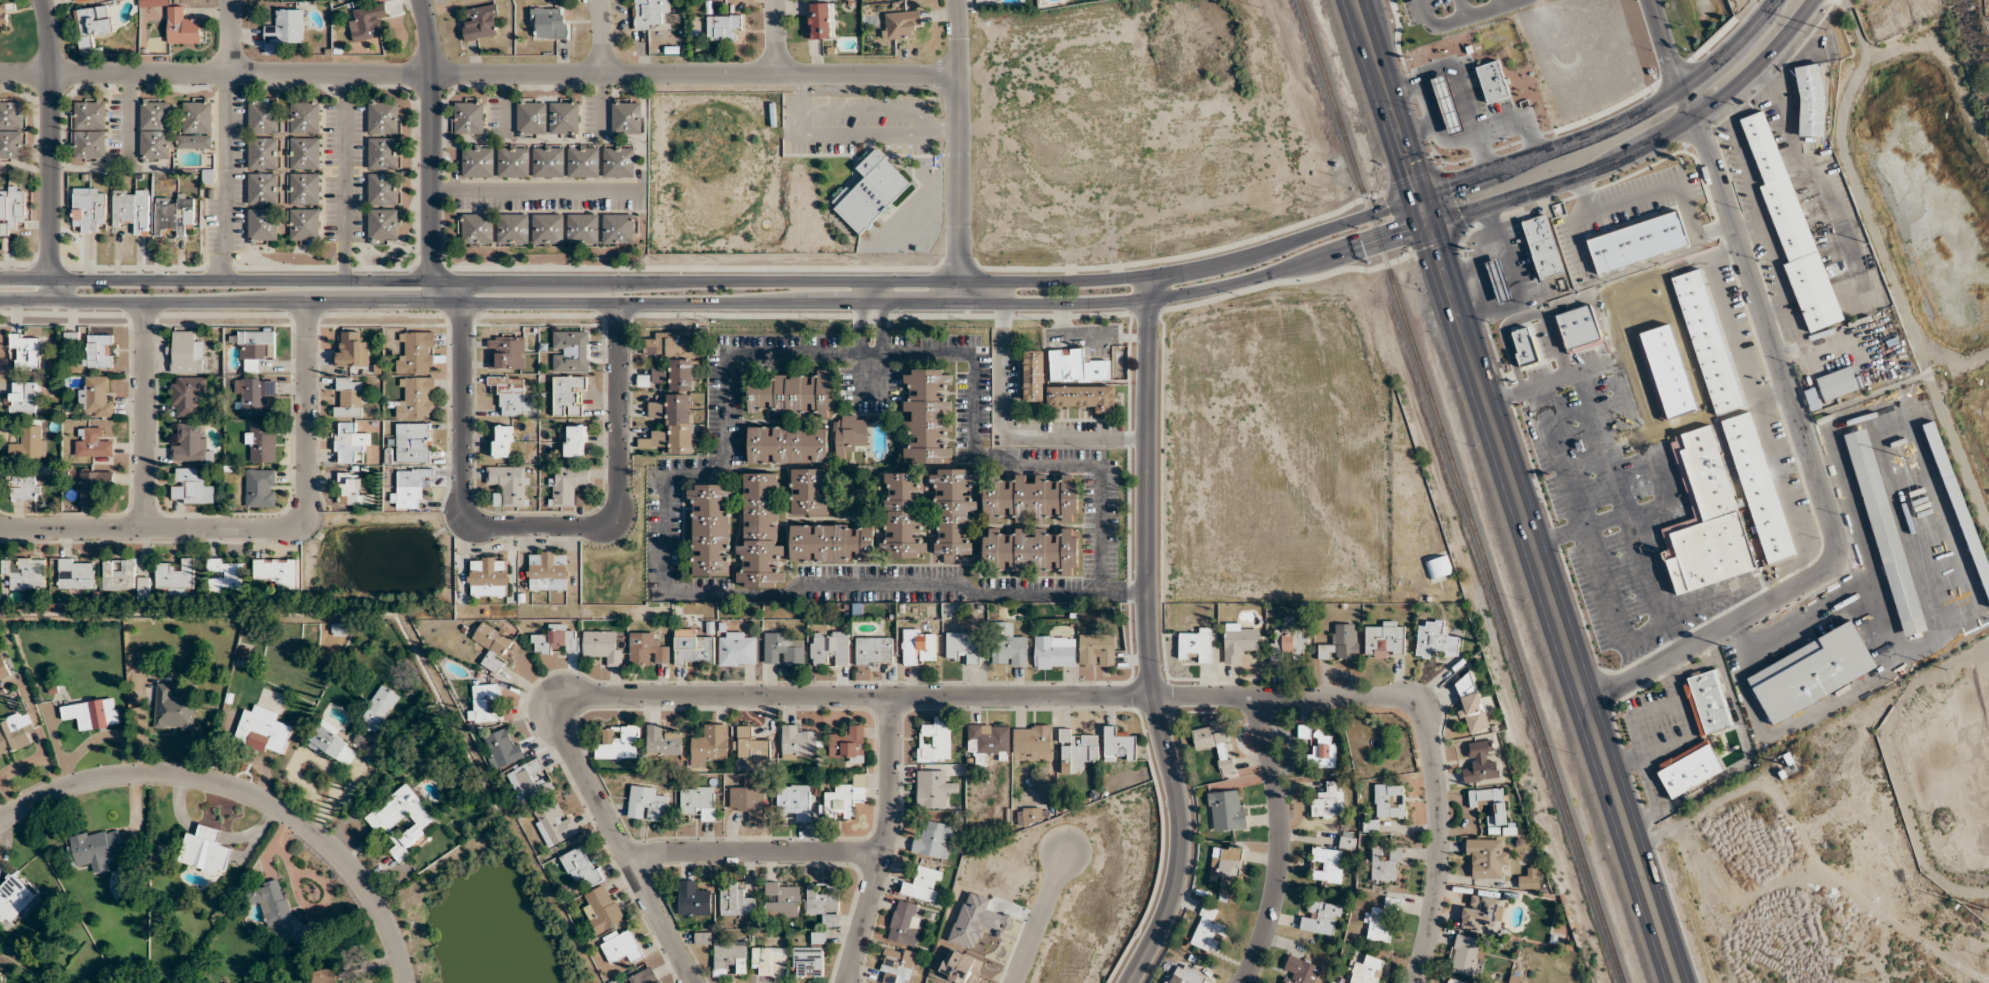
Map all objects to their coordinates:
building: (81, 1)
building: (649, 13)
building: (3, 18)
building: (820, 20)
building: (368, 22)
building: (548, 22)
building: (481, 23)
building: (93, 24)
building: (900, 24)
building: (182, 26)
building: (285, 27)
building: (723, 27)
road: (229, 36)
road: (599, 36)
road: (775, 36)
road: (1664, 45)
road: (478, 73)
building: (1492, 81)
building: (1810, 100)
road: (505, 103)
road: (601, 104)
building: (1446, 104)
road: (1433, 106)
building: (262, 116)
building: (468, 116)
building: (626, 116)
building: (304, 117)
building: (383, 117)
building: (531, 117)
building: (563, 118)
road: (129, 120)
building: (195, 124)
road: (1614, 127)
building: (155, 129)
road: (1500, 129)
building: (11, 130)
building: (88, 130)
road: (1644, 149)
road: (50, 150)
road: (433, 150)
road: (957, 150)
building: (262, 153)
building: (304, 153)
building: (383, 153)
building: (478, 160)
building: (513, 160)
building: (547, 161)
building: (582, 161)
building: (618, 161)
road: (226, 176)
road: (344, 177)
building: (263, 188)
building: (304, 188)
building: (383, 189)
road: (538, 189)
building: (871, 192)
traffic signals: (1419, 198)
building: (11, 206)
building: (89, 207)
building: (131, 210)
building: (173, 214)
building: (262, 224)
building: (304, 224)
building: (383, 224)
traffic signals: (1429, 224)
building: (1790, 226)
building: (477, 229)
building: (513, 229)
building: (547, 229)
building: (583, 229)
building: (618, 229)
building: (1637, 242)
building: (1541, 246)
road: (1648, 277)
road: (715, 280)
building: (1497, 280)
road: (862, 291)
road: (879, 291)
road: (719, 303)
road: (861, 325)
road: (878, 334)
building: (1707, 341)
building: (667, 344)
road: (1665, 345)
building: (256, 347)
building: (27, 349)
building: (351, 350)
building: (97, 351)
building: (508, 351)
building: (570, 351)
building: (186, 353)
building: (416, 353)
road: (1630, 355)
building: (1076, 366)
building: (681, 374)
building: (1034, 375)
building: (1838, 383)
building: (510, 394)
building: (187, 395)
building: (253, 395)
building: (97, 396)
building: (569, 396)
building: (1084, 396)
building: (21, 397)
building: (349, 397)
building: (416, 399)
building: (1812, 399)
building: (805, 403)
road: (1756, 406)
road: (1596, 408)
building: (655, 410)
road: (144, 416)
building: (927, 416)
building: (673, 426)
road: (1619, 429)
road: (1011, 432)
building: (503, 441)
building: (575, 441)
building: (350, 442)
building: (413, 442)
building: (92, 443)
building: (30, 444)
building: (189, 444)
building: (259, 444)
building: (787, 444)
road: (999, 459)
road: (1660, 460)
road: (1812, 477)
building: (509, 484)
railway: (1459, 484)
building: (93, 486)
building: (567, 486)
building: (23, 487)
building: (191, 487)
building: (260, 488)
building: (350, 488)
building: (409, 488)
building: (809, 491)
road: (1516, 491)
building: (1031, 497)
road: (1648, 506)
building: (1723, 507)
building: (953, 512)
building: (902, 517)
road: (1602, 521)
road: (532, 526)
building: (710, 528)
road: (259, 529)
building: (1884, 530)
building: (760, 535)
road: (1556, 536)
building: (831, 542)
road: (1584, 546)
building: (1031, 551)
building: (1438, 567)
road: (1645, 567)
building: (547, 570)
building: (277, 571)
building: (25, 572)
building: (76, 573)
building: (118, 574)
building: (225, 575)
building: (488, 576)
building: (176, 577)
building: (143, 589)
road: (685, 592)
road: (1135, 593)
road: (1710, 598)
building: (340, 627)
road: (1148, 636)
road: (1670, 636)
building: (1384, 639)
building: (556, 640)
building: (1436, 640)
building: (1239, 642)
building: (1341, 643)
building: (1288, 644)
building: (492, 645)
building: (1194, 645)
building: (919, 646)
building: (964, 646)
building: (602, 647)
building: (693, 648)
building: (830, 648)
building: (647, 649)
building: (737, 649)
building: (782, 649)
building: (1096, 650)
building: (874, 651)
building: (1055, 652)
building: (4, 667)
building: (1811, 672)
road: (1298, 694)
road: (573, 702)
building: (486, 703)
building: (1471, 704)
building: (173, 709)
building: (378, 709)
building: (91, 714)
building: (263, 731)
building: (15, 732)
building: (1304, 732)
building: (1699, 734)
building: (662, 741)
building: (934, 741)
building: (987, 741)
building: (710, 742)
building: (1032, 742)
building: (331, 743)
building: (619, 743)
building: (797, 743)
building: (1214, 743)
building: (848, 745)
building: (751, 746)
building: (1118, 746)
building: (502, 748)
building: (1324, 750)
building: (1076, 751)
building: (1481, 762)
building: (528, 781)
building: (932, 789)
road: (245, 793)
building: (748, 799)
building: (844, 799)
building: (698, 801)
building: (794, 801)
building: (1329, 801)
building: (1388, 801)
building: (647, 804)
building: (1490, 804)
building: (1227, 810)
building: (1034, 815)
building: (402, 820)
building: (554, 825)
building: (933, 840)
road: (1279, 840)
road: (884, 842)
building: (1347, 842)
building: (95, 847)
building: (204, 851)
road: (753, 851)
building: (1487, 857)
building: (1386, 863)
building: (580, 865)
building: (1327, 865)
building: (1225, 870)
building: (1530, 880)
building: (923, 884)
building: (14, 899)
building: (693, 899)
building: (781, 899)
building: (736, 900)
building: (824, 903)
building: (602, 909)
building: (276, 911)
building: (1481, 913)
building: (1322, 917)
road: (1038, 919)
building: (1382, 921)
building: (904, 923)
building: (1208, 931)
building: (702, 938)
building: (620, 946)
building: (1466, 956)
building: (729, 958)
building: (810, 958)
building: (769, 961)
building: (897, 965)
building: (962, 967)
building: (1299, 971)
building: (1367, 971)
building: (1185, 975)
building: (324, 976)
railway: (1621, 976)
building: (641, 977)
building: (1516, 979)
building: (1454, 981)

